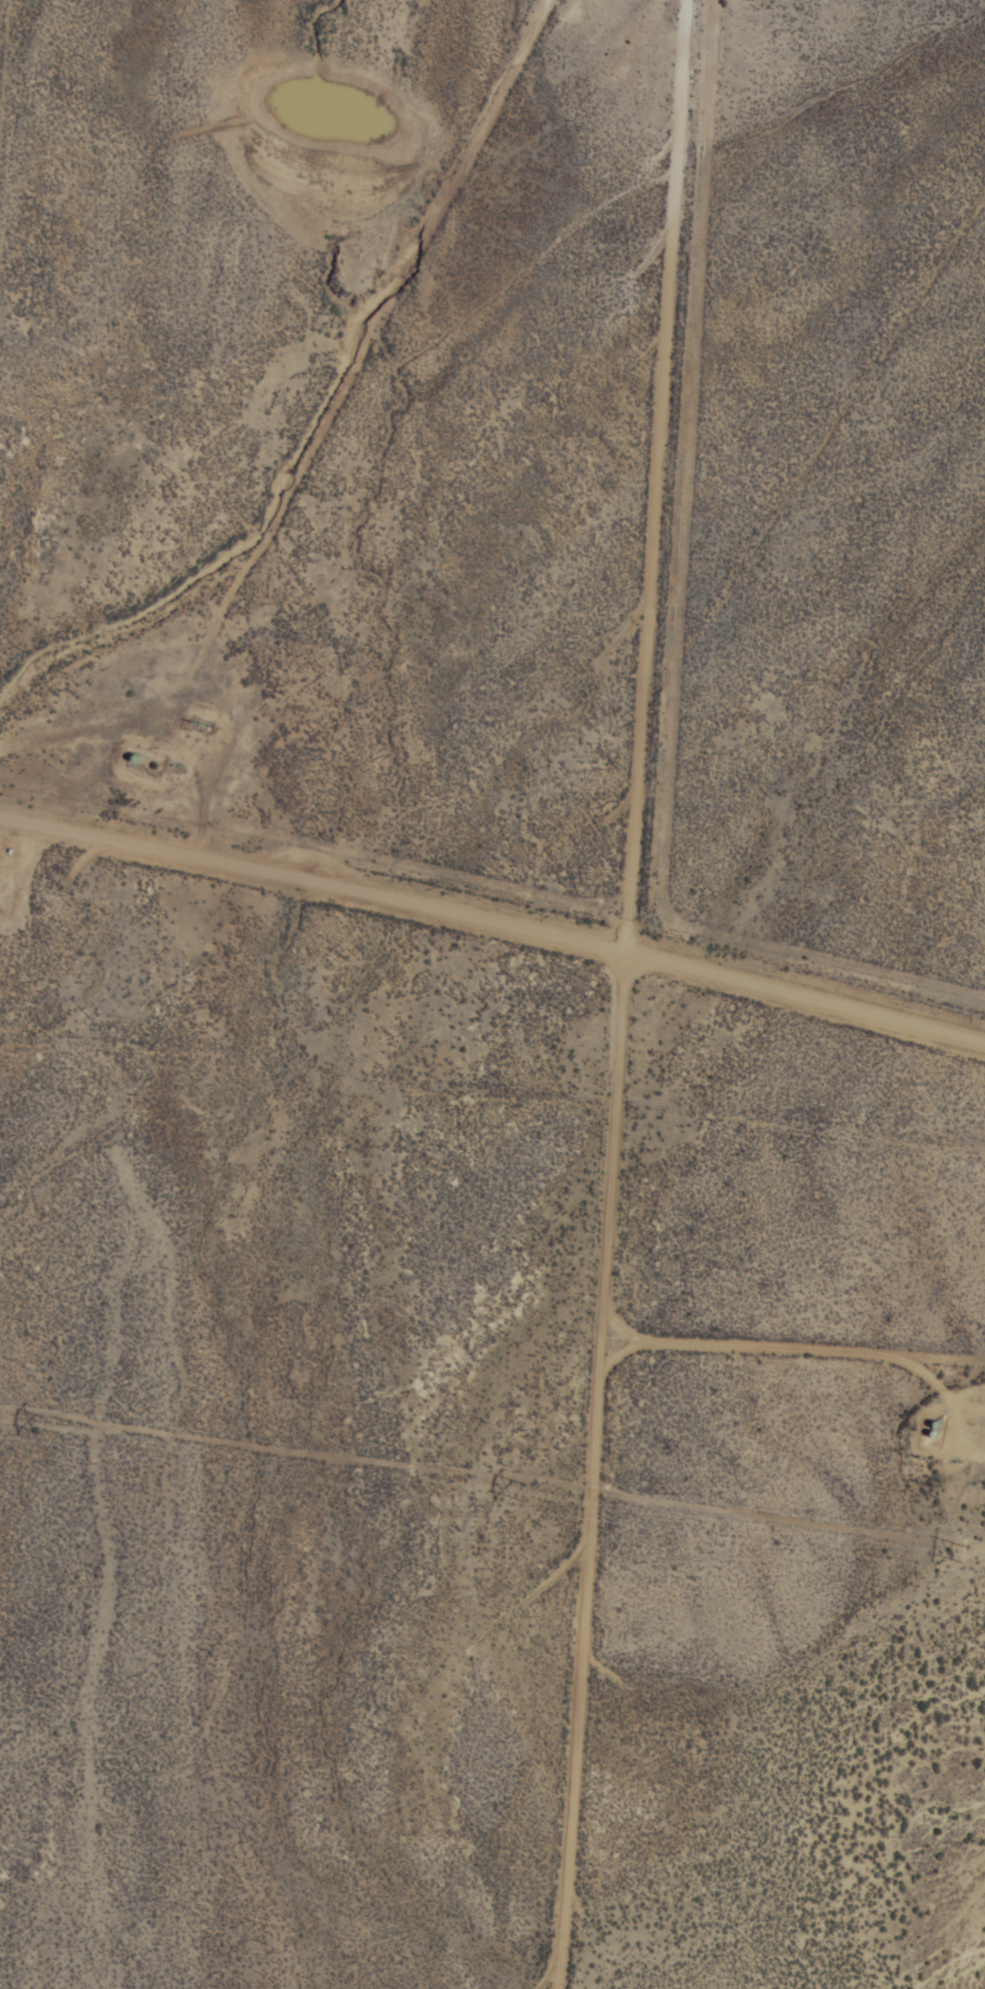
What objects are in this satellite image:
road: (3, 54)
road: (335, 406)
road: (494, 922)
road: (603, 989)
road: (792, 1347)
power tower: (42, 1426)
power tower: (533, 1493)
power tower: (966, 1551)

